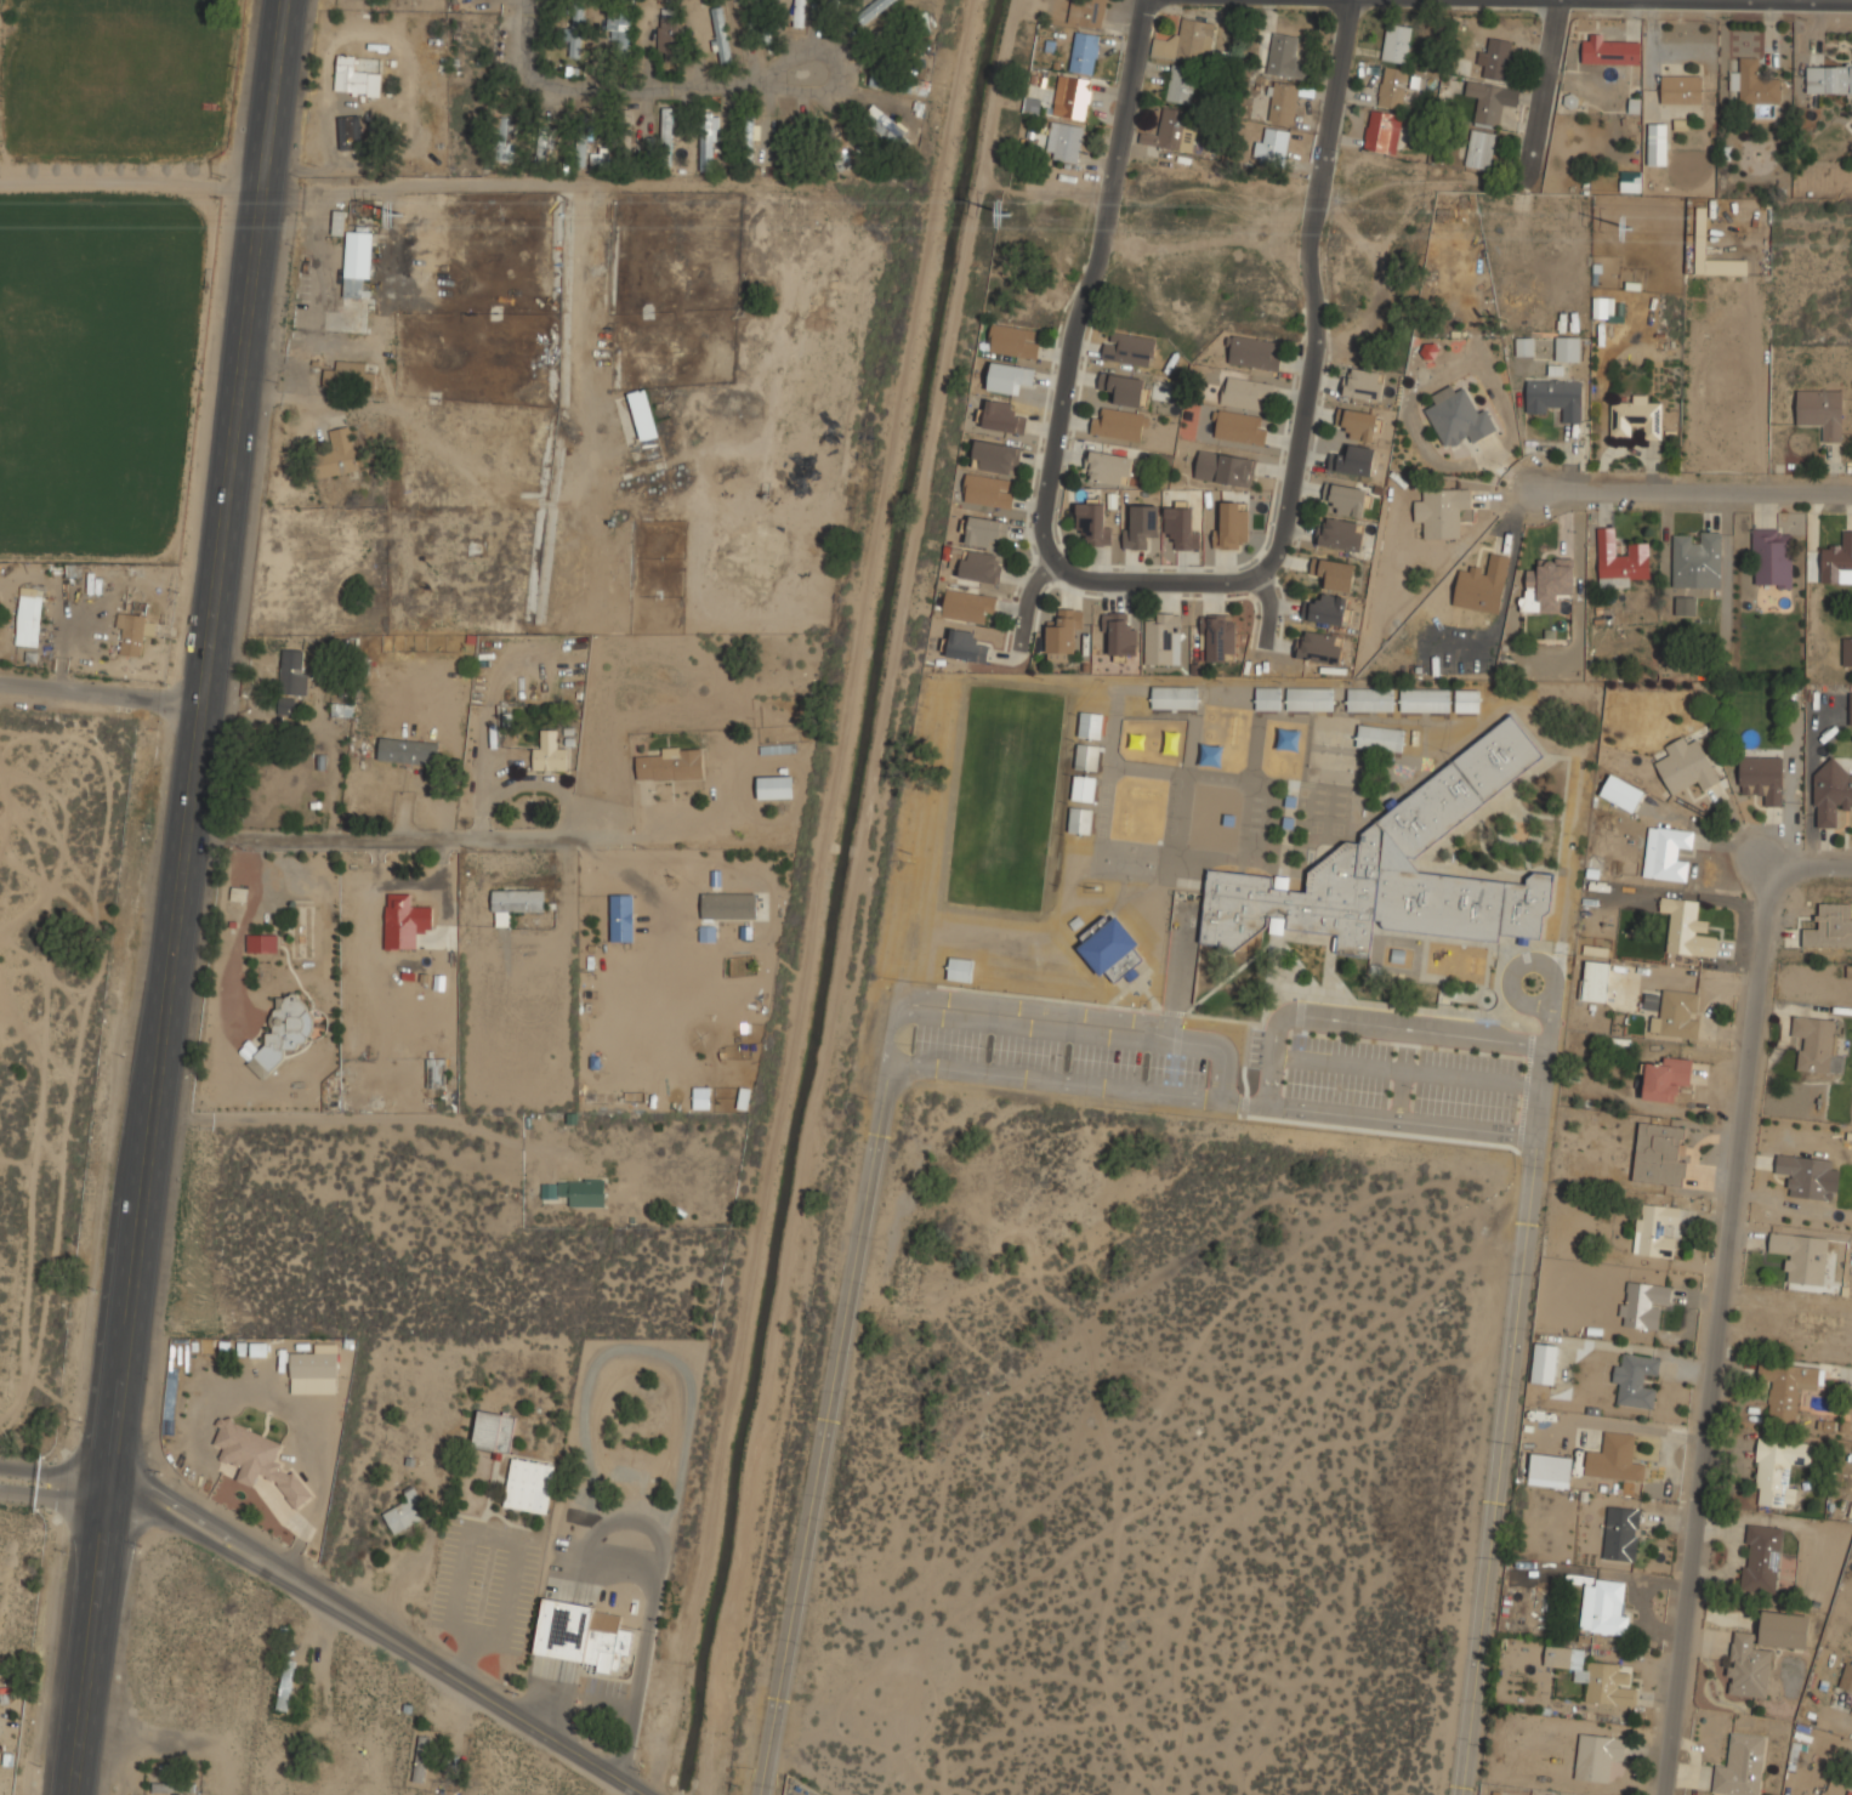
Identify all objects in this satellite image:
road: (1381, 4)
building: (869, 10)
building: (1087, 11)
building: (799, 12)
building: (920, 23)
building: (667, 32)
building: (620, 33)
building: (718, 33)
building: (576, 34)
building: (1187, 42)
building: (1397, 42)
building: (1610, 51)
building: (1084, 52)
building: (1277, 55)
building: (1496, 58)
road: (831, 66)
crop: (119, 78)
building: (354, 78)
building: (1829, 79)
road: (615, 84)
building: (891, 84)
building: (1754, 84)
building: (1181, 85)
building: (1393, 87)
building: (1681, 89)
road: (1550, 91)
building: (1072, 97)
building: (1490, 101)
building: (1283, 104)
building: (884, 124)
building: (666, 130)
building: (1170, 131)
building: (1382, 131)
building: (350, 132)
building: (506, 140)
building: (748, 141)
building: (708, 142)
building: (1063, 143)
building: (1657, 143)
building: (1274, 144)
building: (625, 146)
building: (545, 147)
building: (576, 148)
building: (833, 148)
building: (1481, 149)
building: (1630, 181)
road: (133, 183)
power tower: (405, 215)
power tower: (1011, 215)
building: (337, 222)
power tower: (1635, 228)
road: (1095, 280)
building: (353, 286)
road: (1311, 292)
building: (1603, 306)
building: (1013, 341)
building: (1524, 346)
building: (1567, 348)
building: (1130, 350)
building: (1427, 351)
building: (1255, 353)
building: (348, 376)
building: (1009, 377)
building: (1364, 384)
building: (1123, 390)
building: (1246, 394)
building: (1555, 397)
building: (1819, 411)
building: (642, 414)
building: (1002, 416)
building: (1459, 417)
building: (1635, 417)
building: (1118, 425)
building: (1359, 426)
building: (1238, 428)
building: (335, 454)
building: (995, 456)
building: (1356, 460)
building: (1109, 467)
building: (1226, 470)
building: (988, 490)
road: (1691, 493)
building: (1346, 500)
building: (1442, 511)
building: (1092, 523)
building: (1231, 523)
building: (1141, 527)
building: (1180, 527)
building: (985, 529)
building: (1342, 534)
building: (1772, 557)
building: (1697, 559)
building: (1837, 559)
building: (1624, 563)
building: (981, 566)
building: (1334, 573)
road: (1149, 580)
building: (1547, 584)
building: (1482, 585)
road: (1027, 601)
building: (966, 604)
building: (1685, 606)
building: (1326, 608)
road: (1267, 609)
building: (28, 618)
building: (130, 635)
building: (1119, 635)
building: (1062, 637)
building: (1221, 637)
building: (1163, 640)
building: (965, 646)
building: (1322, 647)
building: (1847, 651)
building: (294, 672)
building: (1175, 697)
building: (1268, 698)
building: (1310, 699)
building: (1370, 699)
building: (1425, 700)
building: (1467, 701)
road: (101, 703)
building: (286, 705)
building: (1850, 708)
building: (341, 710)
building: (1091, 725)
building: (1380, 738)
building: (1137, 742)
building: (1172, 743)
road: (198, 746)
building: (408, 750)
building: (549, 754)
building: (1087, 757)
building: (672, 765)
building: (1686, 766)
building: (1761, 777)
building: (774, 788)
building: (1084, 788)
building: (1621, 793)
building: (1830, 795)
building: (1080, 820)
road: (387, 833)
building: (1669, 853)
building: (1393, 871)
road: (657, 891)
building: (513, 903)
building: (728, 907)
building: (621, 918)
building: (408, 919)
building: (1830, 926)
building: (1687, 927)
building: (261, 942)
building: (1113, 950)
building: (960, 968)
building: (1595, 981)
building: (1677, 1013)
building: (283, 1034)
building: (1814, 1043)
road: (1273, 1061)
building: (436, 1073)
building: (1666, 1078)
building: (701, 1097)
road: (369, 1118)
building: (1660, 1153)
building: (1808, 1176)
building: (576, 1192)
building: (1655, 1229)
building: (1801, 1256)
road: (1743, 1288)
building: (1642, 1303)
building: (316, 1362)
building: (1544, 1363)
building: (1636, 1380)
road: (1509, 1386)
building: (1786, 1391)
building: (494, 1431)
building: (1614, 1459)
building: (257, 1460)
building: (1551, 1467)
building: (1779, 1470)
road: (52, 1484)
building: (528, 1486)
building: (404, 1512)
building: (1621, 1533)
building: (1761, 1558)
building: (1603, 1607)
road: (384, 1628)
road: (646, 1629)
building: (583, 1635)
road: (86, 1643)
building: (1761, 1652)
building: (1846, 1677)
building: (1593, 1680)
building: (285, 1685)
flagpole: (581, 1726)
building: (1597, 1756)
building: (421, 1759)
building: (1742, 1766)

